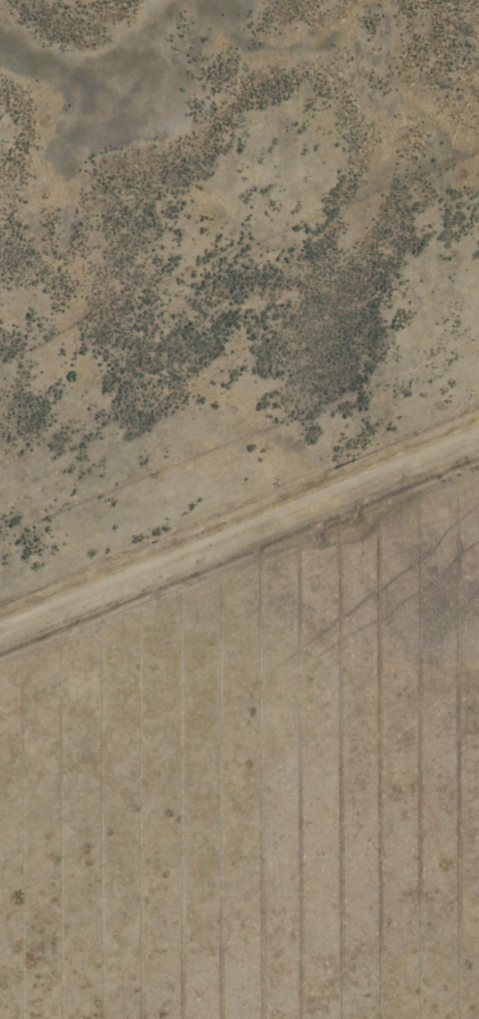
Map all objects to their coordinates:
crop: (224, 283)
road: (239, 514)
crop: (257, 785)

